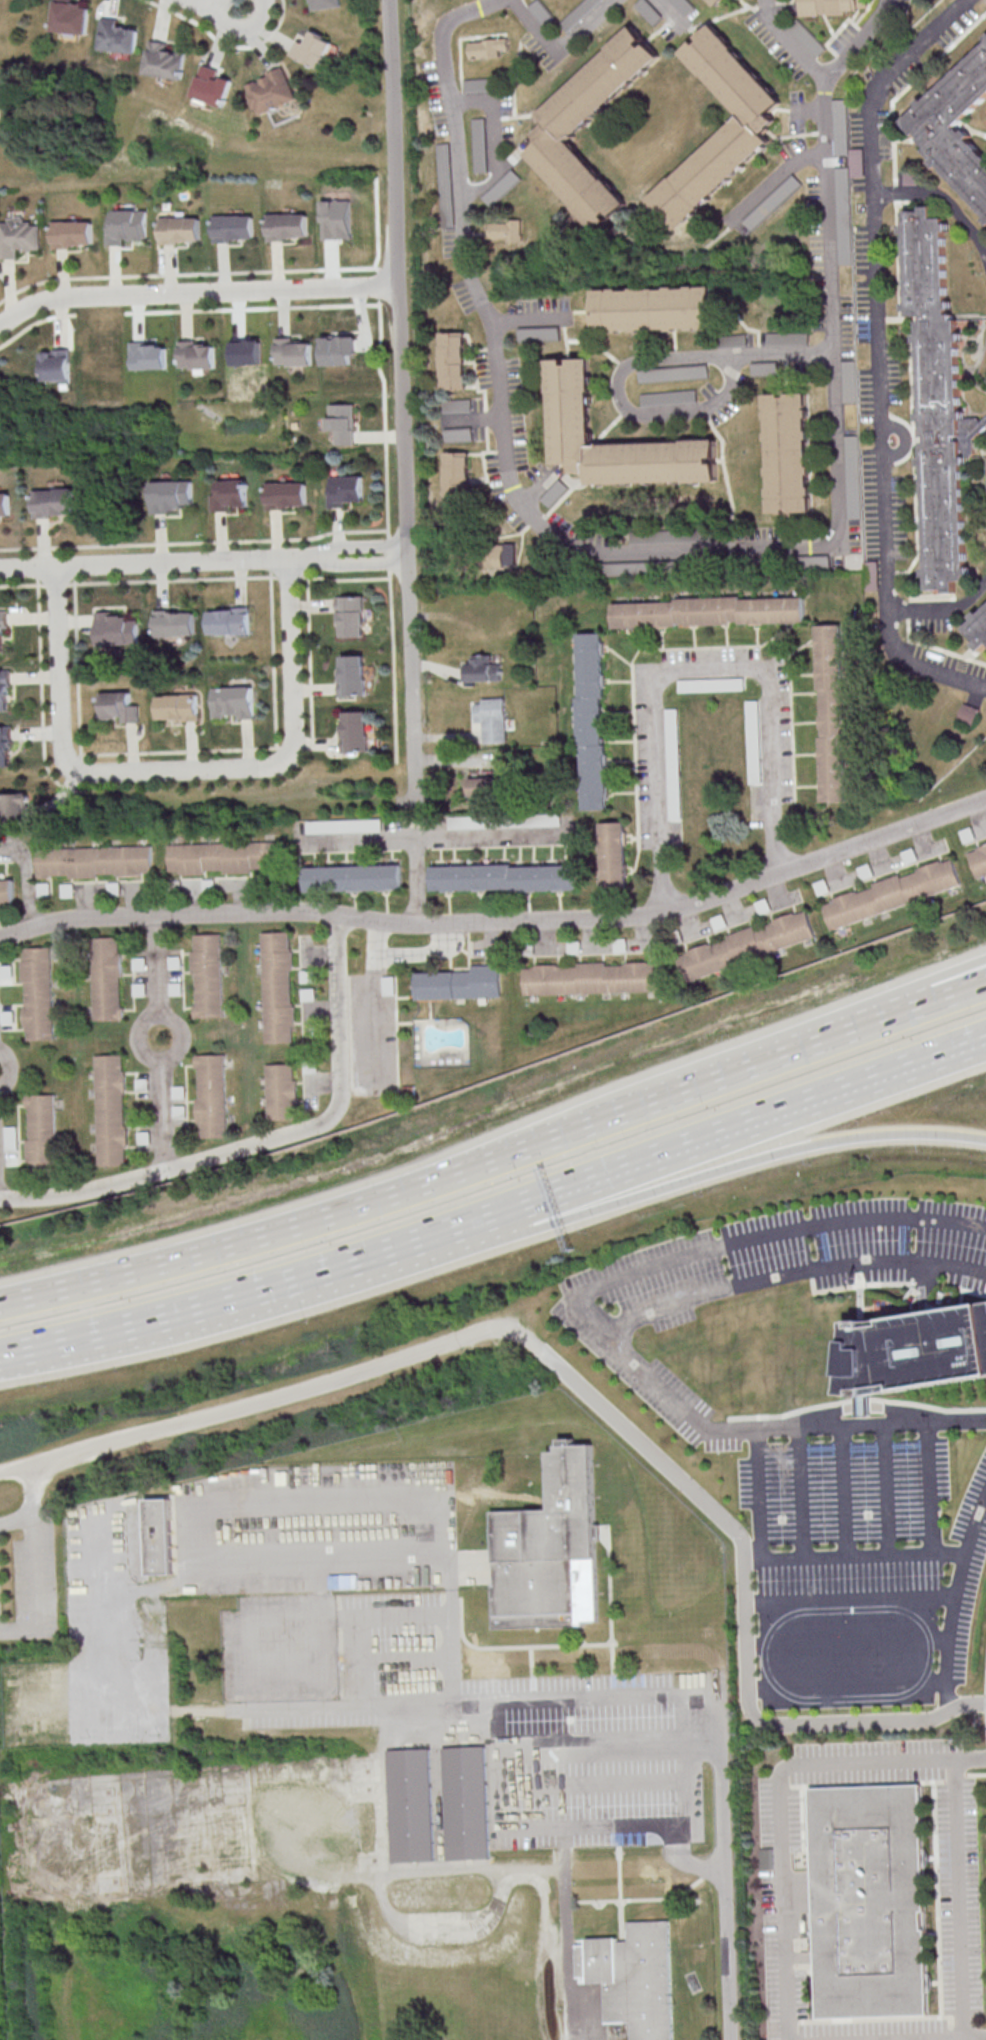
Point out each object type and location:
building: (718, 2)
building: (325, 4)
building: (683, 6)
building: (829, 6)
road: (219, 7)
building: (598, 7)
road: (169, 10)
building: (651, 10)
road: (669, 11)
building: (70, 17)
building: (117, 36)
road: (794, 41)
road: (562, 46)
building: (487, 47)
building: (312, 49)
building: (165, 61)
building: (477, 84)
building: (212, 86)
building: (272, 91)
building: (955, 123)
building: (748, 127)
building: (559, 128)
road: (973, 129)
road: (497, 140)
road: (893, 144)
building: (479, 145)
road: (774, 181)
building: (844, 215)
building: (337, 219)
building: (127, 225)
building: (287, 225)
building: (234, 227)
building: (180, 229)
building: (506, 229)
building: (73, 233)
building: (18, 236)
road: (154, 274)
road: (198, 294)
road: (63, 296)
road: (294, 306)
building: (654, 308)
road: (196, 309)
road: (285, 311)
road: (187, 315)
road: (904, 317)
road: (529, 321)
road: (33, 322)
building: (787, 337)
building: (339, 349)
building: (247, 352)
building: (294, 352)
road: (877, 354)
building: (150, 355)
building: (198, 356)
building: (453, 360)
building: (57, 365)
road: (635, 366)
building: (764, 367)
building: (673, 373)
building: (938, 393)
road: (406, 396)
building: (669, 397)
building: (570, 399)
building: (469, 419)
building: (342, 422)
building: (788, 452)
road: (387, 473)
building: (457, 473)
building: (853, 476)
building: (346, 490)
building: (172, 494)
building: (230, 494)
building: (287, 494)
building: (5, 504)
road: (917, 519)
road: (194, 542)
road: (684, 551)
road: (389, 552)
building: (495, 555)
road: (206, 564)
road: (287, 576)
road: (172, 579)
road: (344, 579)
road: (56, 583)
road: (22, 584)
building: (707, 611)
building: (352, 615)
building: (229, 621)
building: (176, 623)
building: (976, 625)
building: (3, 626)
building: (117, 629)
road: (310, 656)
road: (274, 660)
road: (393, 664)
road: (77, 666)
building: (485, 667)
road: (695, 669)
building: (354, 674)
building: (5, 690)
road: (42, 696)
building: (234, 701)
building: (179, 703)
building: (120, 706)
building: (834, 712)
building: (968, 713)
building: (492, 718)
building: (592, 720)
building: (356, 731)
building: (5, 746)
road: (181, 749)
road: (179, 771)
building: (483, 786)
building: (15, 806)
building: (346, 825)
road: (483, 834)
road: (360, 839)
building: (614, 853)
building: (225, 856)
building: (978, 856)
building: (94, 860)
building: (353, 877)
building: (503, 877)
road: (27, 878)
road: (417, 880)
building: (7, 891)
building: (893, 892)
road: (670, 911)
road: (167, 915)
building: (746, 944)
road: (404, 956)
building: (208, 975)
building: (593, 977)
building: (107, 978)
building: (460, 983)
building: (277, 986)
building: (38, 993)
road: (948, 997)
road: (375, 1019)
road: (843, 1034)
road: (758, 1043)
road: (162, 1044)
building: (281, 1091)
building: (211, 1095)
building: (111, 1109)
building: (42, 1132)
road: (266, 1141)
road: (664, 1154)
road: (392, 1194)
road: (492, 1243)
road: (791, 1272)
road: (591, 1288)
road: (192, 1310)
building: (914, 1350)
road: (20, 1352)
road: (585, 1393)
road: (871, 1426)
park: (212, 1446)
road: (33, 1489)
road: (928, 1490)
road: (843, 1491)
road: (887, 1491)
road: (801, 1493)
road: (17, 1519)
road: (975, 1529)
building: (159, 1536)
building: (549, 1549)
road: (941, 1554)
parking lot: (27, 1575)
road: (35, 1590)
road: (985, 1701)
road: (495, 1749)
building: (465, 1802)
road: (778, 1803)
building: (410, 1804)
road: (565, 1885)
road: (959, 1897)
building: (870, 1900)
road: (730, 1929)
park: (2, 1961)
building: (632, 1977)
road: (928, 2037)

